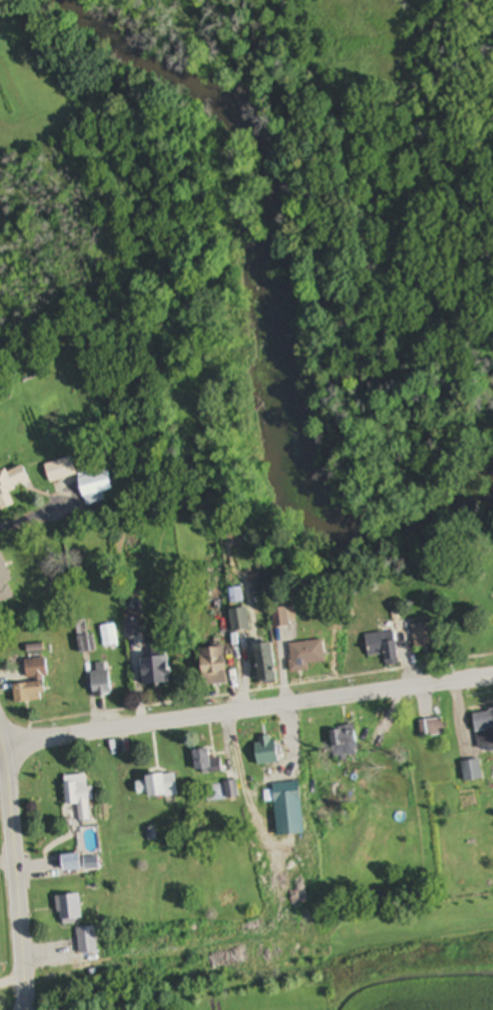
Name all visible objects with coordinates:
river: (271, 301)
building: (61, 470)
building: (11, 485)
building: (96, 486)
road: (36, 516)
building: (5, 583)
building: (282, 619)
building: (241, 621)
building: (425, 638)
building: (384, 648)
building: (308, 657)
building: (268, 664)
building: (216, 668)
building: (158, 671)
building: (102, 681)
building: (33, 684)
road: (248, 713)
building: (432, 729)
building: (484, 732)
building: (346, 744)
road: (2, 749)
building: (268, 752)
building: (208, 765)
building: (472, 772)
road: (265, 779)
building: (158, 788)
building: (80, 799)
building: (289, 810)
road: (8, 862)
building: (73, 864)
road: (17, 872)
building: (71, 910)
building: (89, 940)
road: (13, 986)

